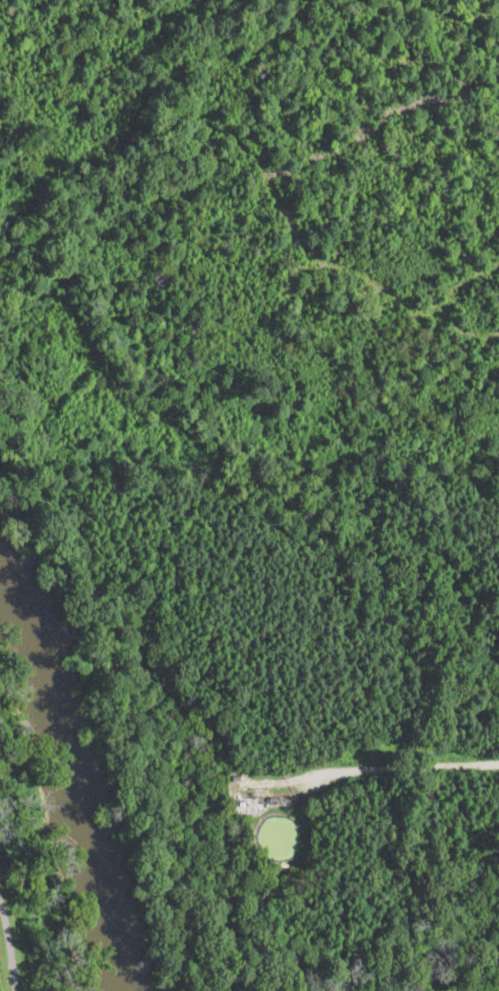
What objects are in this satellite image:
road: (392, 767)
river: (72, 773)
building: (236, 776)
building: (279, 798)
road: (9, 944)

